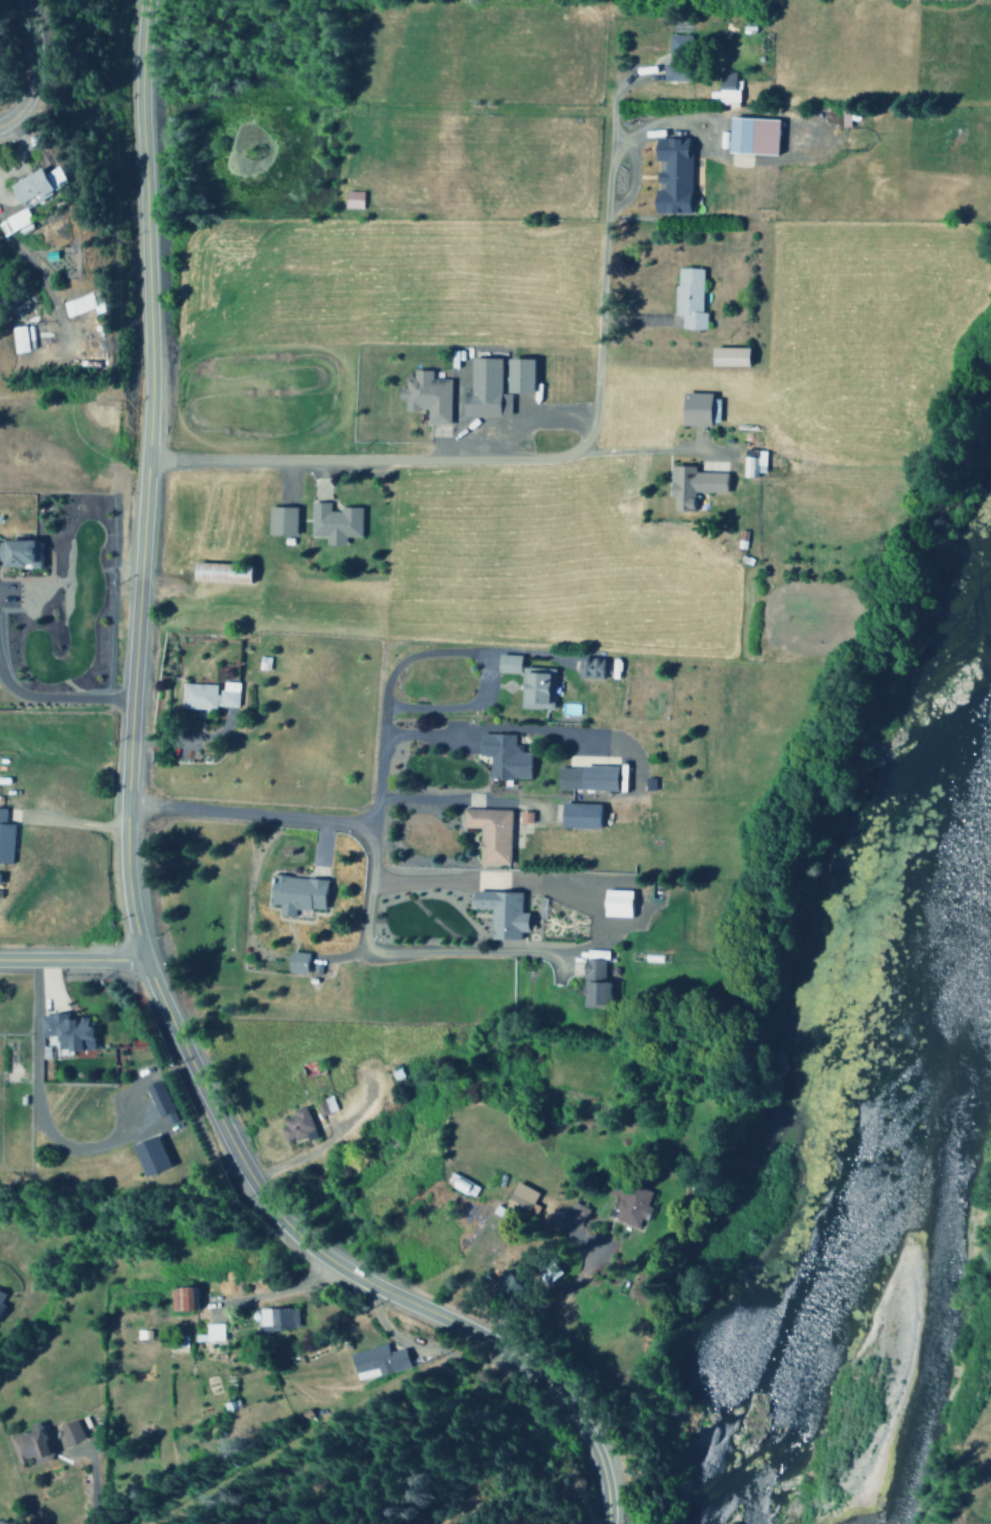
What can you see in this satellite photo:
road: (38, 66)
building: (673, 71)
building: (725, 87)
road: (660, 122)
building: (750, 135)
building: (670, 175)
building: (35, 184)
building: (351, 199)
building: (15, 222)
road: (600, 279)
building: (687, 298)
building: (77, 304)
building: (17, 339)
building: (727, 356)
building: (515, 374)
building: (483, 390)
building: (425, 396)
building: (696, 408)
road: (348, 462)
building: (752, 464)
road: (151, 480)
building: (690, 485)
building: (279, 520)
building: (332, 522)
building: (18, 554)
building: (218, 572)
building: (506, 663)
building: (588, 668)
road: (391, 674)
building: (535, 688)
building: (208, 695)
road: (66, 700)
road: (461, 707)
road: (552, 732)
building: (502, 757)
building: (588, 778)
road: (461, 801)
building: (577, 816)
road: (254, 817)
building: (523, 817)
building: (488, 833)
building: (5, 840)
road: (498, 876)
building: (295, 894)
building: (614, 903)
road: (366, 906)
building: (499, 913)
road: (589, 917)
road: (463, 954)
road: (72, 959)
building: (295, 962)
building: (593, 983)
building: (66, 1032)
building: (157, 1098)
building: (319, 1108)
building: (295, 1126)
building: (147, 1156)
river: (928, 1156)
building: (461, 1186)
building: (520, 1198)
building: (627, 1204)
building: (572, 1222)
road: (350, 1273)
building: (0, 1294)
building: (181, 1299)
building: (276, 1319)
building: (209, 1333)
building: (377, 1361)
building: (69, 1430)
building: (27, 1442)
road: (97, 1495)
building: (2, 1523)

